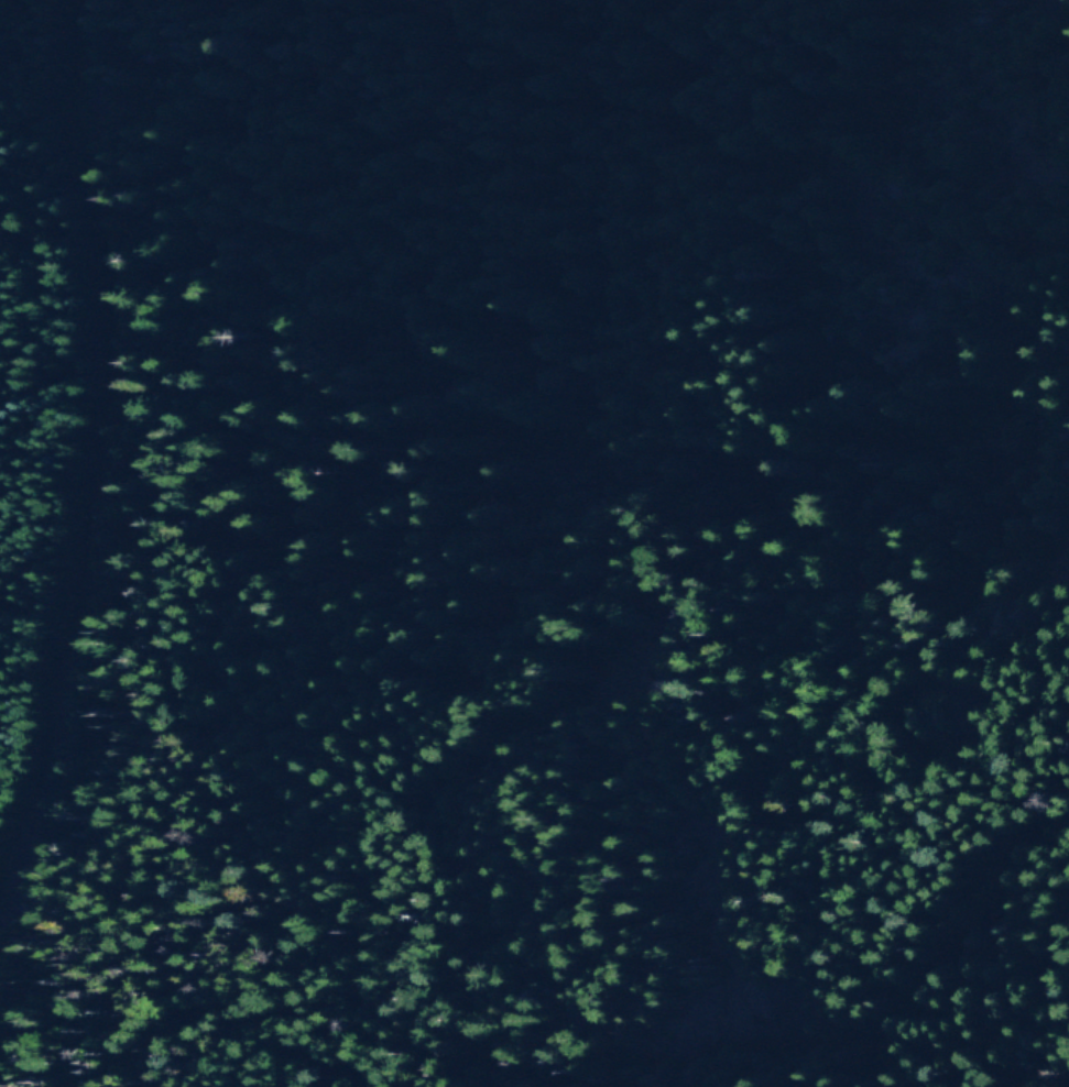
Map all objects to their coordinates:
road: (66, 461)

